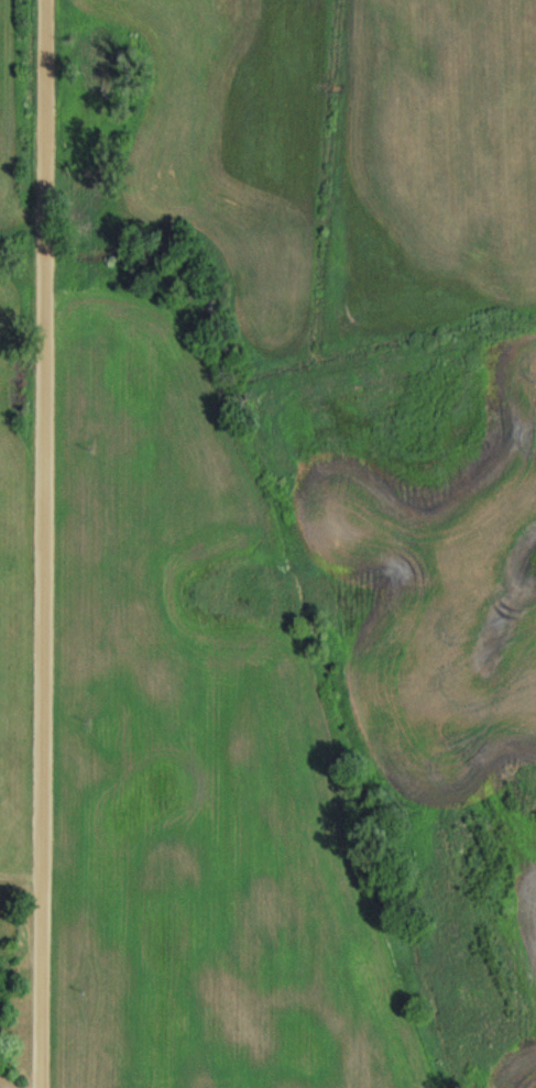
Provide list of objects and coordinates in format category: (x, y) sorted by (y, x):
road: (41, 543)

